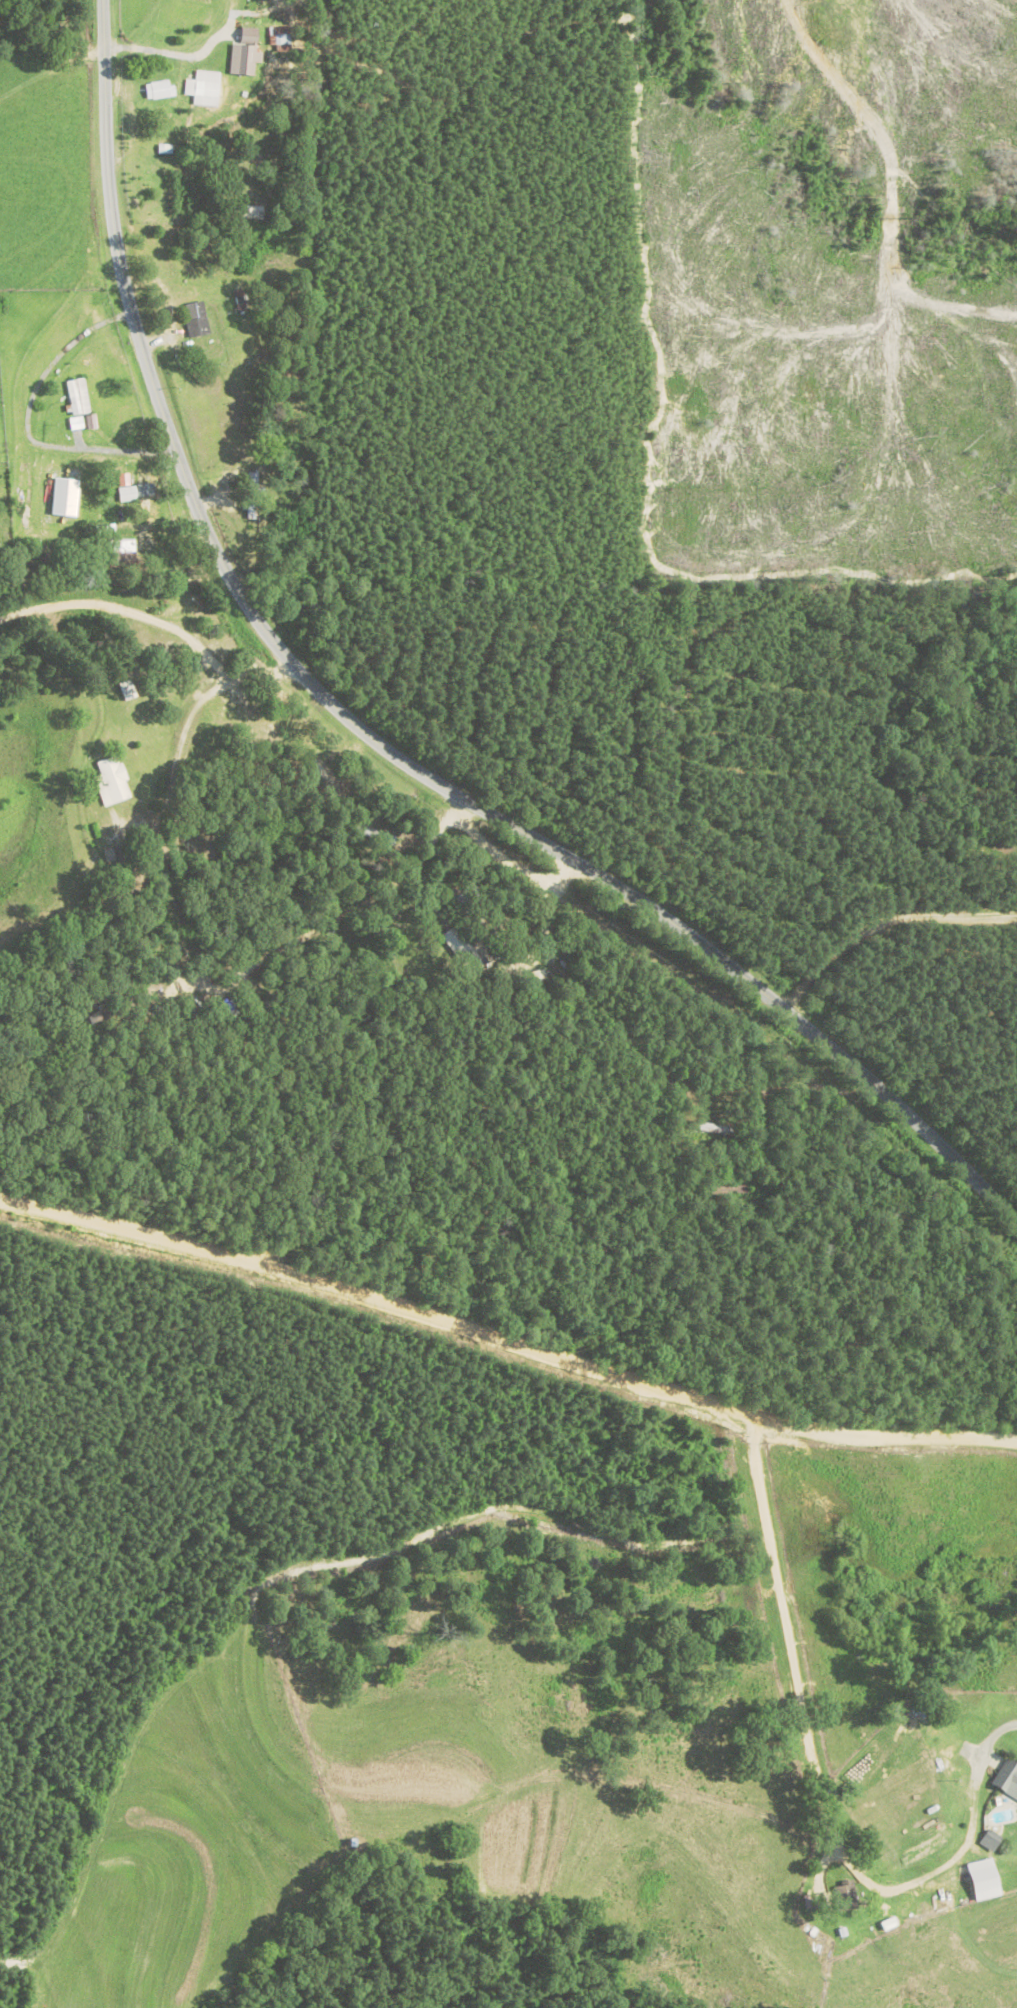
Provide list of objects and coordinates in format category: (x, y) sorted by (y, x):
building: (281, 39)
building: (204, 88)
building: (159, 90)
building: (165, 145)
building: (181, 192)
building: (197, 319)
building: (78, 397)
building: (128, 494)
building: (252, 496)
road: (105, 554)
building: (116, 565)
building: (166, 625)
road: (124, 635)
road: (372, 736)
building: (327, 774)
building: (112, 782)
building: (375, 835)
building: (460, 947)
building: (539, 977)
building: (713, 1129)
road: (658, 1298)
road: (506, 1336)
road: (790, 1625)
road: (990, 1738)
building: (1007, 1778)
building: (846, 1899)

